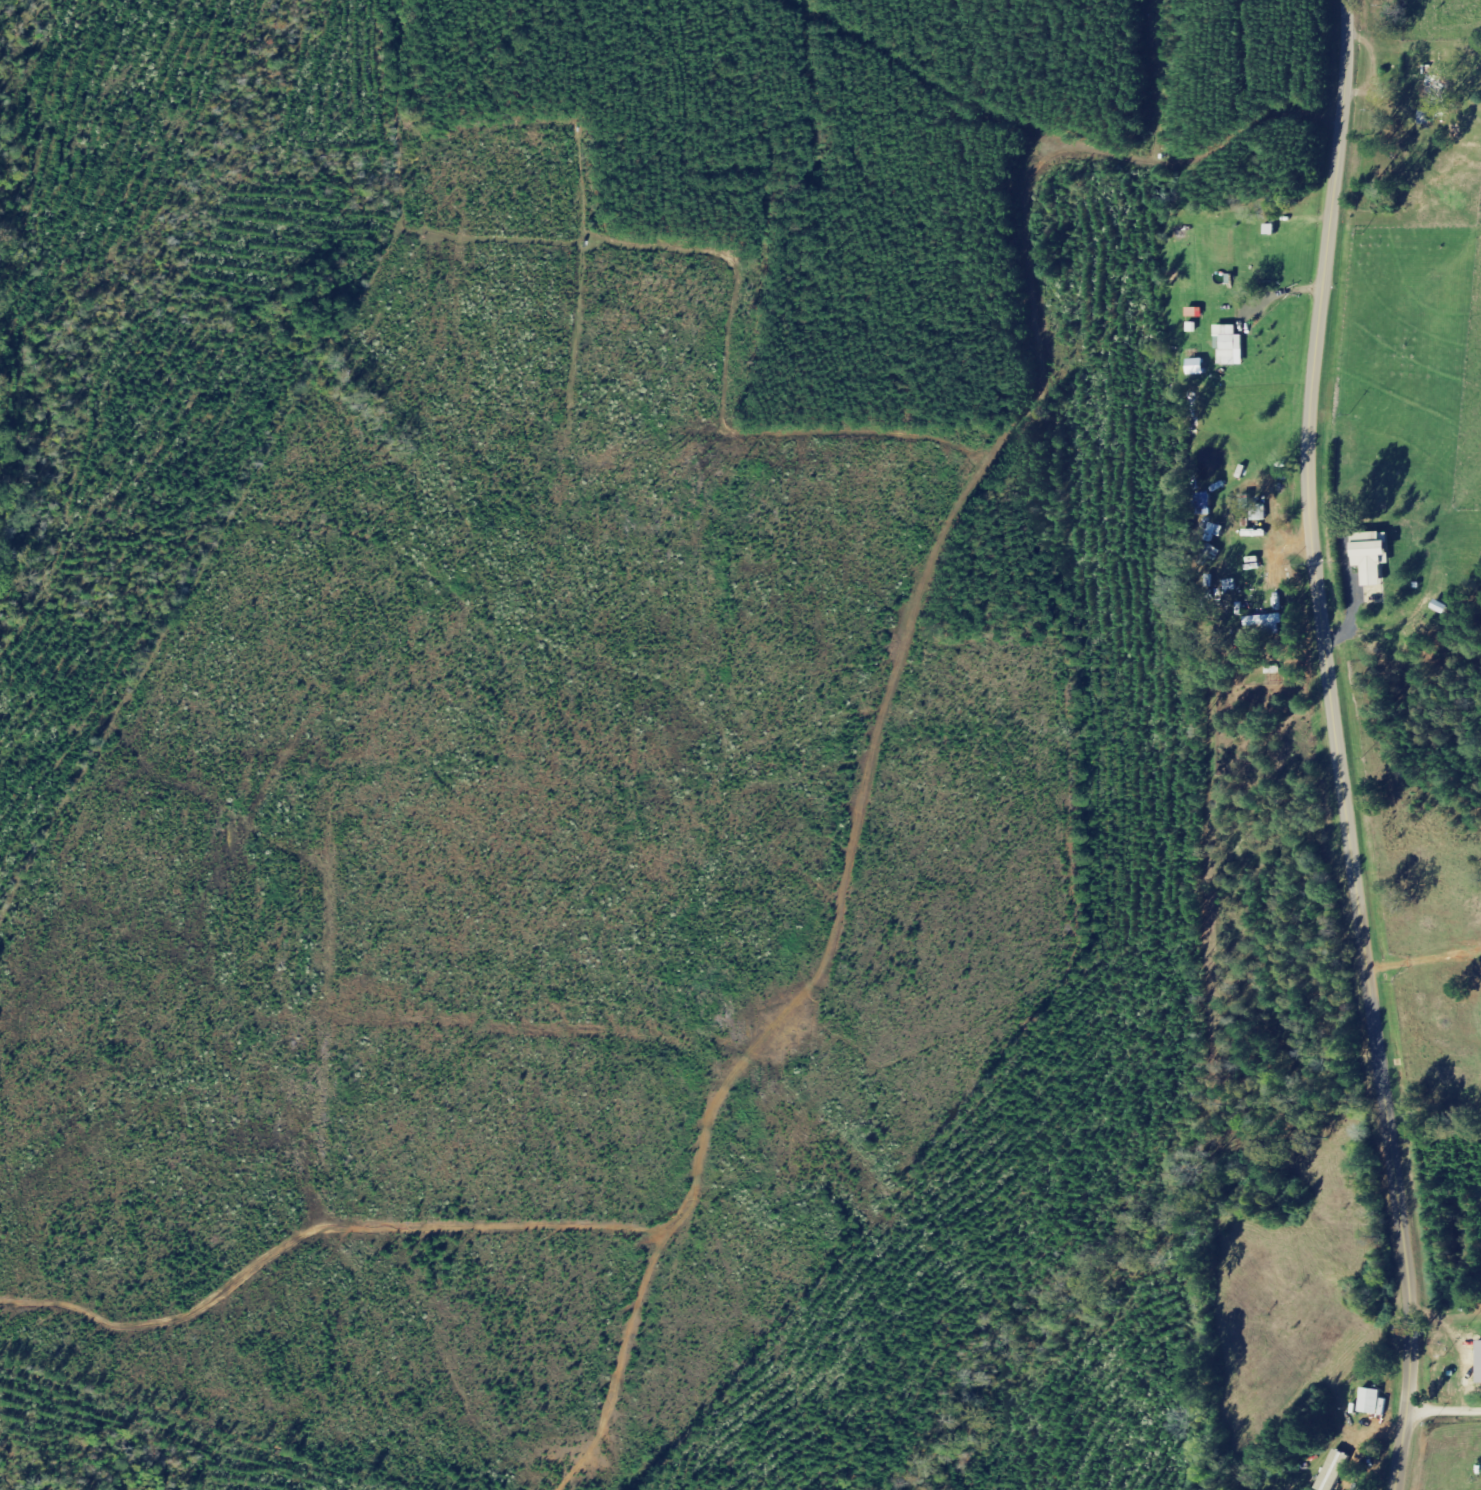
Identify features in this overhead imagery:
building: (1437, 84)
building: (1427, 117)
building: (1231, 344)
building: (1261, 513)
building: (1375, 556)
building: (1266, 622)
road: (1337, 746)
road: (1444, 1393)
building: (1336, 1471)

